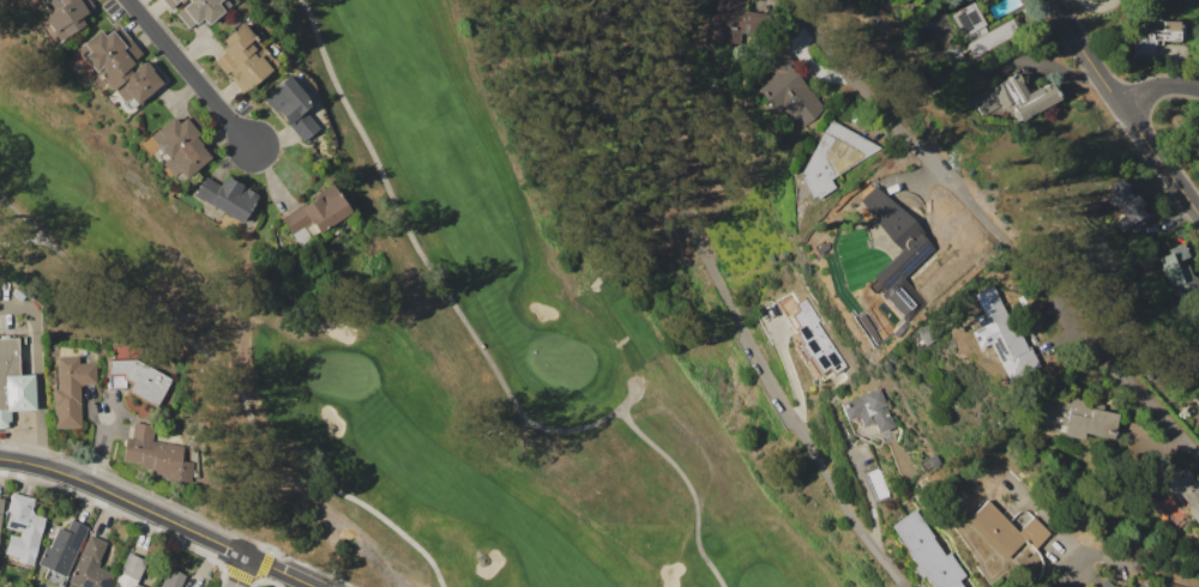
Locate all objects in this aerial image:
building: (983, 0)
building: (173, 2)
building: (200, 11)
building: (65, 14)
building: (731, 24)
building: (974, 35)
building: (1151, 37)
building: (245, 59)
building: (119, 66)
road: (1034, 67)
road: (187, 72)
building: (787, 87)
road: (1161, 90)
building: (958, 93)
building: (1016, 97)
road: (1123, 105)
building: (290, 107)
building: (177, 145)
building: (832, 159)
building: (225, 196)
building: (1126, 205)
building: (315, 214)
road: (995, 228)
building: (902, 264)
building: (1179, 270)
road: (734, 311)
park: (444, 313)
building: (903, 326)
building: (923, 333)
building: (1004, 334)
building: (813, 340)
building: (1191, 356)
road: (38, 371)
building: (139, 379)
building: (13, 381)
building: (1197, 383)
building: (70, 391)
building: (867, 410)
building: (1077, 417)
road: (98, 449)
building: (156, 454)
building: (928, 462)
building: (875, 484)
building: (1176, 498)
building: (1, 507)
road: (158, 515)
building: (23, 527)
building: (1006, 528)
building: (64, 547)
building: (926, 552)
building: (91, 567)
road: (1127, 567)
building: (131, 571)
road: (240, 571)
building: (173, 579)
road: (1182, 582)
building: (1107, 583)
building: (1120, 586)

